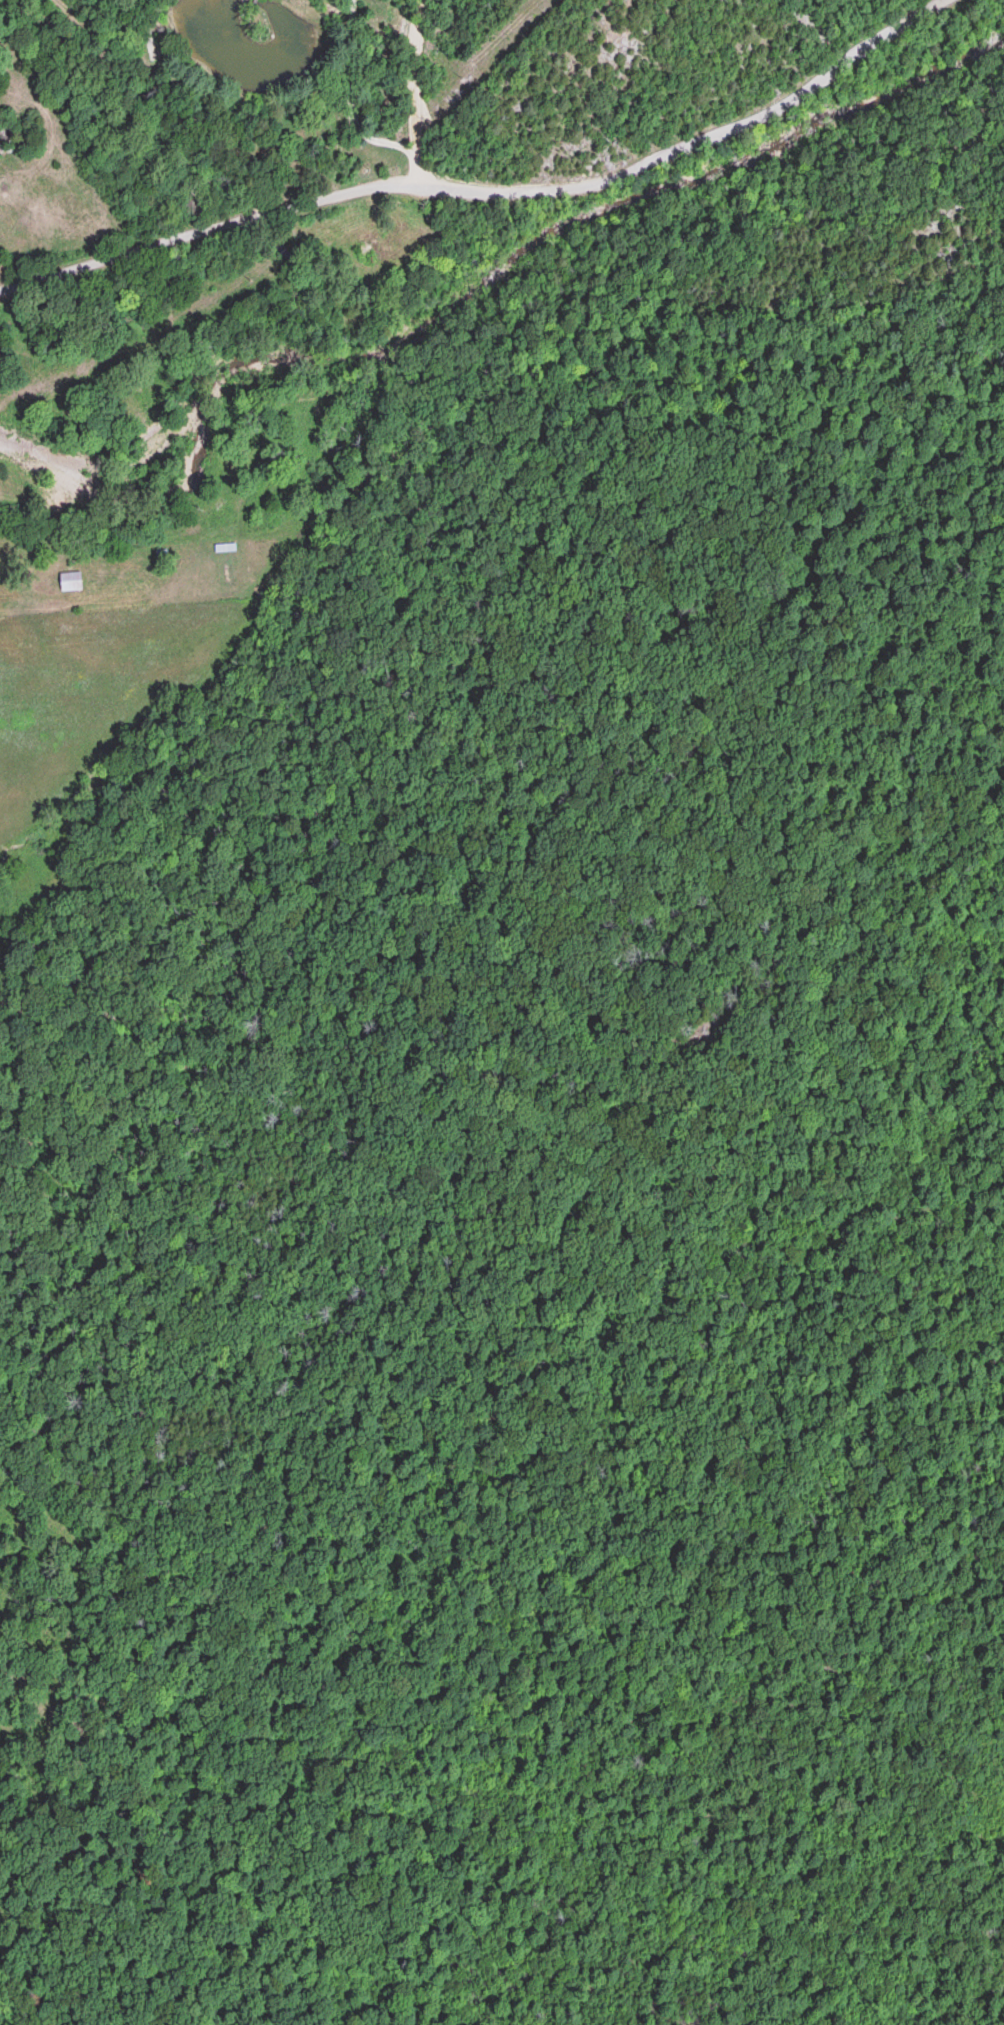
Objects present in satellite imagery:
road: (396, 17)
road: (148, 88)
road: (413, 89)
road: (478, 190)
building: (401, 244)
building: (364, 253)
building: (224, 546)
building: (69, 580)

